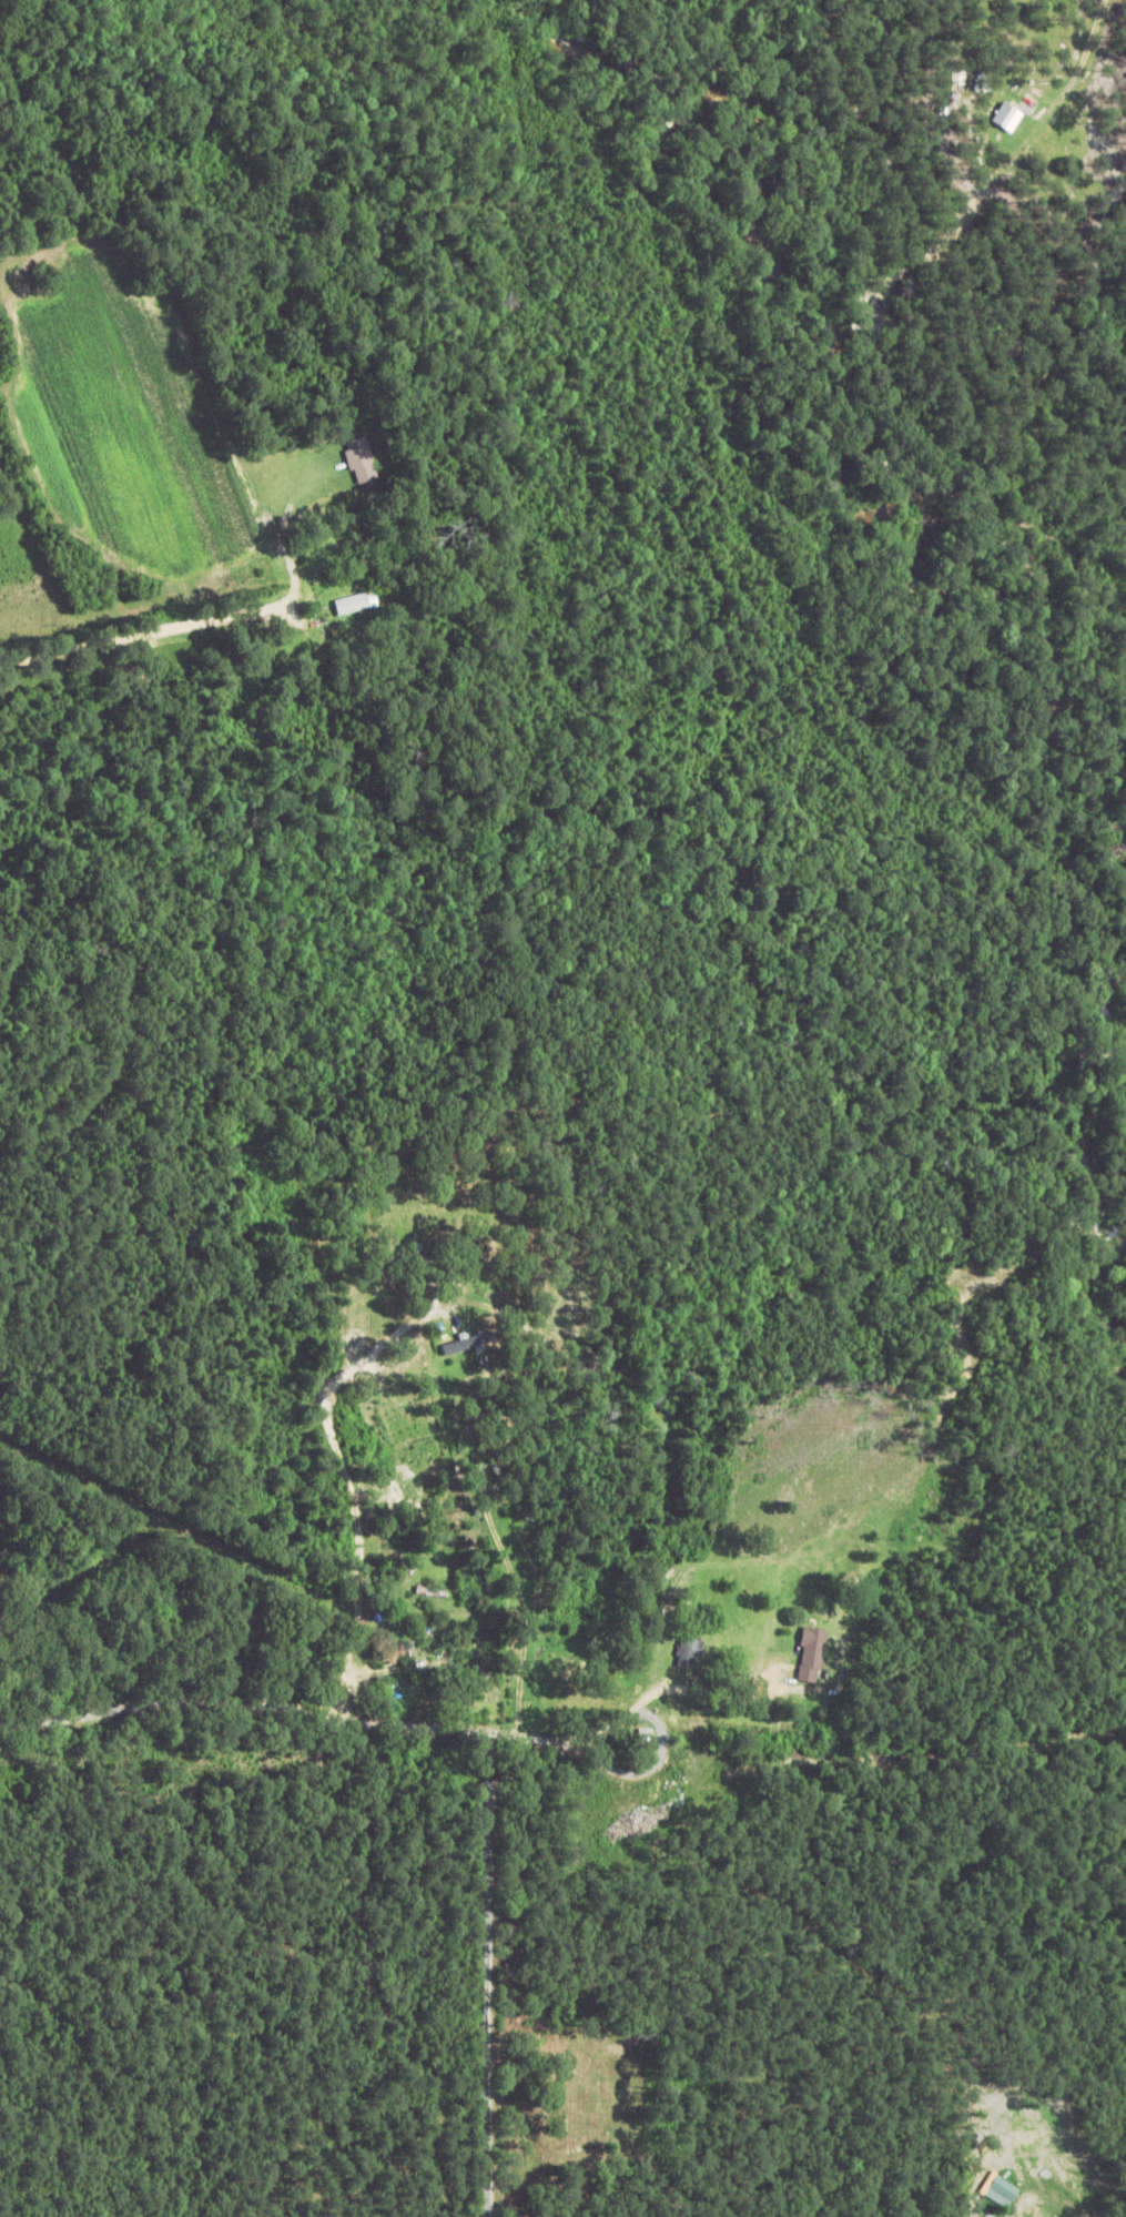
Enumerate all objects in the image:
river: (829, 368)
building: (361, 460)
building: (355, 604)
road: (144, 634)
river: (1106, 1005)
road: (63, 1121)
river: (1098, 1144)
river: (1089, 1277)
building: (113, 1571)
building: (388, 1654)
building: (690, 1654)
building: (813, 1656)
building: (465, 1691)
road: (351, 1711)
building: (692, 1738)

